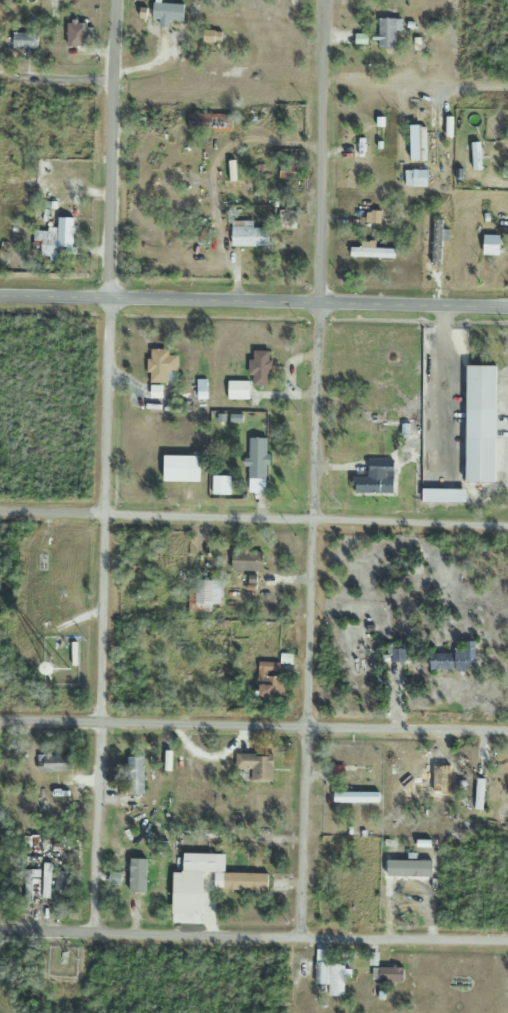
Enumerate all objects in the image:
building: (165, 11)
building: (386, 32)
building: (79, 34)
road: (103, 38)
building: (23, 41)
road: (323, 53)
building: (207, 122)
building: (377, 133)
building: (383, 181)
building: (247, 236)
building: (52, 237)
building: (434, 243)
building: (488, 245)
building: (370, 253)
road: (253, 302)
building: (158, 365)
building: (257, 367)
building: (235, 389)
building: (480, 429)
building: (254, 464)
building: (180, 473)
building: (373, 477)
road: (104, 504)
road: (254, 517)
road: (309, 522)
building: (243, 560)
building: (204, 595)
building: (450, 655)
building: (266, 681)
road: (254, 725)
building: (54, 762)
building: (254, 766)
building: (132, 775)
building: (443, 781)
building: (478, 793)
building: (429, 873)
building: (242, 881)
building: (157, 884)
road: (254, 936)
building: (386, 974)
building: (328, 977)

